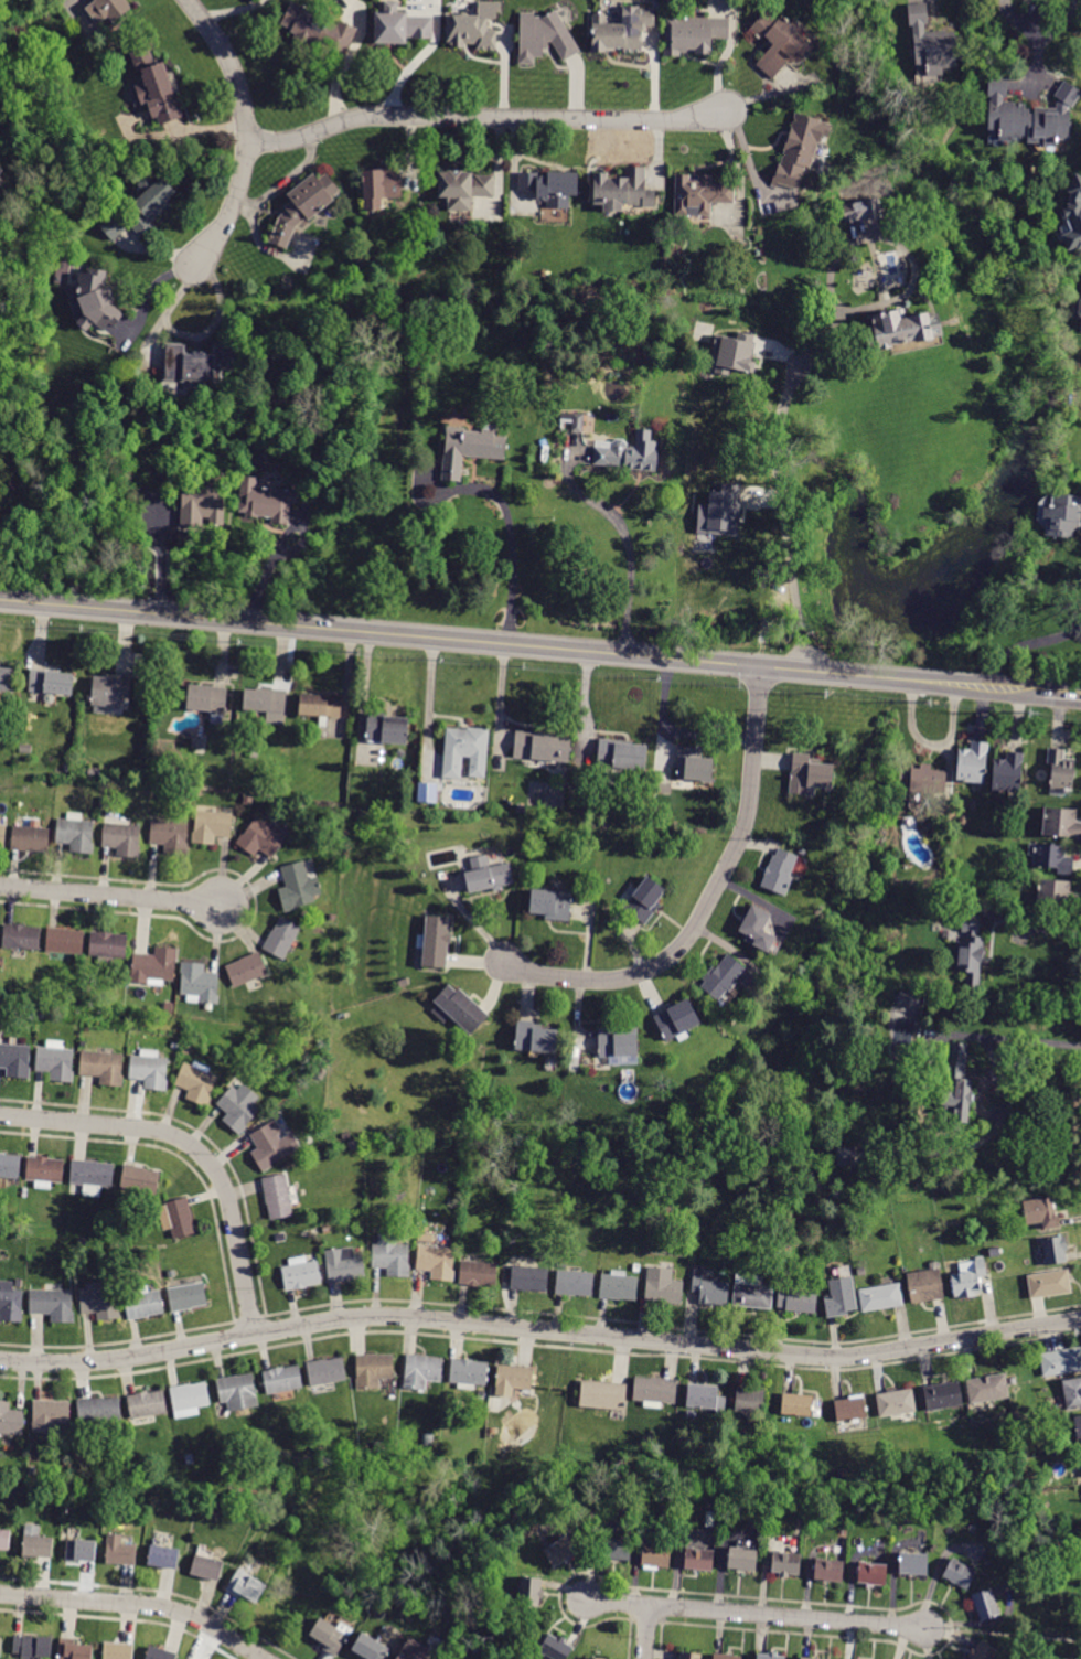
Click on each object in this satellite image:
building: (108, 9)
building: (400, 25)
building: (473, 28)
building: (318, 30)
building: (621, 30)
building: (693, 34)
building: (545, 35)
building: (778, 42)
building: (933, 43)
building: (154, 87)
building: (1029, 115)
road: (483, 117)
road: (246, 127)
building: (799, 150)
building: (1, 171)
building: (379, 186)
building: (550, 186)
building: (463, 189)
building: (622, 190)
building: (699, 195)
building: (151, 203)
building: (303, 206)
building: (863, 210)
building: (1073, 218)
building: (113, 227)
building: (97, 299)
building: (1080, 313)
building: (901, 329)
building: (725, 355)
road: (802, 357)
building: (196, 363)
building: (574, 420)
building: (469, 448)
building: (631, 454)
building: (266, 501)
building: (202, 503)
building: (718, 512)
building: (1062, 515)
road: (511, 527)
road: (621, 537)
road: (279, 548)
road: (158, 560)
road: (1025, 643)
road: (495, 645)
building: (7, 679)
building: (52, 682)
road: (1019, 689)
building: (110, 691)
road: (1064, 694)
building: (210, 702)
building: (267, 704)
building: (320, 706)
building: (387, 728)
building: (543, 747)
building: (464, 750)
building: (254, 753)
building: (622, 754)
building: (973, 763)
building: (694, 764)
building: (1060, 771)
building: (89, 772)
building: (809, 773)
building: (1007, 773)
building: (922, 779)
building: (667, 788)
building: (427, 791)
building: (659, 795)
building: (248, 801)
building: (963, 820)
building: (212, 823)
building: (1061, 823)
building: (75, 833)
building: (2, 836)
building: (170, 836)
building: (29, 837)
building: (264, 837)
building: (122, 839)
building: (1052, 858)
building: (779, 871)
building: (488, 875)
building: (298, 887)
road: (113, 896)
building: (1056, 896)
building: (642, 899)
road: (707, 900)
building: (550, 903)
road: (1037, 925)
building: (757, 928)
building: (281, 936)
building: (22, 938)
building: (65, 941)
building: (436, 941)
building: (108, 946)
building: (971, 952)
building: (154, 966)
building: (246, 970)
building: (721, 977)
building: (404, 982)
building: (199, 983)
building: (910, 1000)
building: (460, 1009)
building: (676, 1020)
building: (535, 1038)
road: (1016, 1038)
building: (618, 1045)
building: (185, 1049)
building: (14, 1058)
building: (55, 1061)
building: (103, 1067)
building: (149, 1070)
building: (321, 1074)
building: (197, 1082)
building: (956, 1089)
building: (239, 1106)
building: (346, 1136)
building: (631, 1141)
building: (272, 1145)
road: (194, 1147)
building: (846, 1156)
building: (631, 1165)
building: (9, 1166)
building: (45, 1170)
building: (661, 1170)
building: (763, 1170)
building: (93, 1176)
building: (140, 1179)
building: (279, 1196)
building: (1041, 1213)
building: (178, 1218)
building: (424, 1229)
building: (327, 1230)
building: (280, 1238)
building: (425, 1238)
building: (83, 1242)
building: (1055, 1250)
building: (511, 1254)
building: (390, 1255)
building: (436, 1262)
building: (561, 1264)
building: (344, 1265)
building: (636, 1267)
building: (860, 1272)
building: (301, 1273)
building: (171, 1274)
building: (479, 1274)
building: (529, 1278)
building: (968, 1278)
building: (575, 1283)
building: (1049, 1284)
building: (925, 1285)
building: (618, 1286)
building: (663, 1286)
building: (710, 1291)
building: (751, 1293)
building: (186, 1296)
building: (881, 1297)
building: (841, 1298)
building: (798, 1301)
building: (100, 1302)
building: (10, 1303)
building: (143, 1304)
building: (53, 1305)
road: (539, 1329)
building: (1061, 1361)
building: (373, 1370)
building: (421, 1371)
building: (325, 1373)
building: (469, 1373)
building: (515, 1378)
building: (282, 1379)
building: (987, 1389)
building: (655, 1391)
building: (237, 1392)
building: (1072, 1392)
building: (602, 1395)
building: (943, 1395)
building: (706, 1398)
building: (190, 1399)
building: (750, 1401)
building: (496, 1402)
building: (896, 1403)
building: (147, 1404)
building: (796, 1404)
building: (850, 1409)
building: (98, 1412)
building: (50, 1417)
building: (10, 1420)
building: (1078, 1425)
building: (428, 1439)
building: (280, 1444)
building: (377, 1446)
building: (255, 1453)
building: (190, 1459)
building: (147, 1463)
building: (242, 1514)
building: (709, 1519)
building: (4, 1539)
building: (39, 1543)
building: (617, 1549)
building: (81, 1550)
building: (121, 1551)
building: (560, 1551)
building: (163, 1556)
building: (655, 1556)
building: (699, 1559)
building: (742, 1559)
building: (785, 1563)
building: (913, 1563)
building: (206, 1567)
building: (828, 1570)
building: (959, 1573)
building: (873, 1574)
building: (246, 1585)
building: (529, 1592)
road: (137, 1605)
building: (986, 1605)
building: (368, 1606)
road: (757, 1614)
road: (646, 1631)
building: (331, 1635)
road: (1004, 1635)
building: (33, 1646)
building: (472, 1646)
building: (2, 1647)
building: (370, 1647)
building: (555, 1648)
building: (74, 1650)
building: (118, 1650)
building: (415, 1651)
building: (984, 1651)
building: (160, 1653)
building: (689, 1655)
building: (726, 1657)
building: (770, 1657)
building: (588, 1658)
building: (809, 1658)

